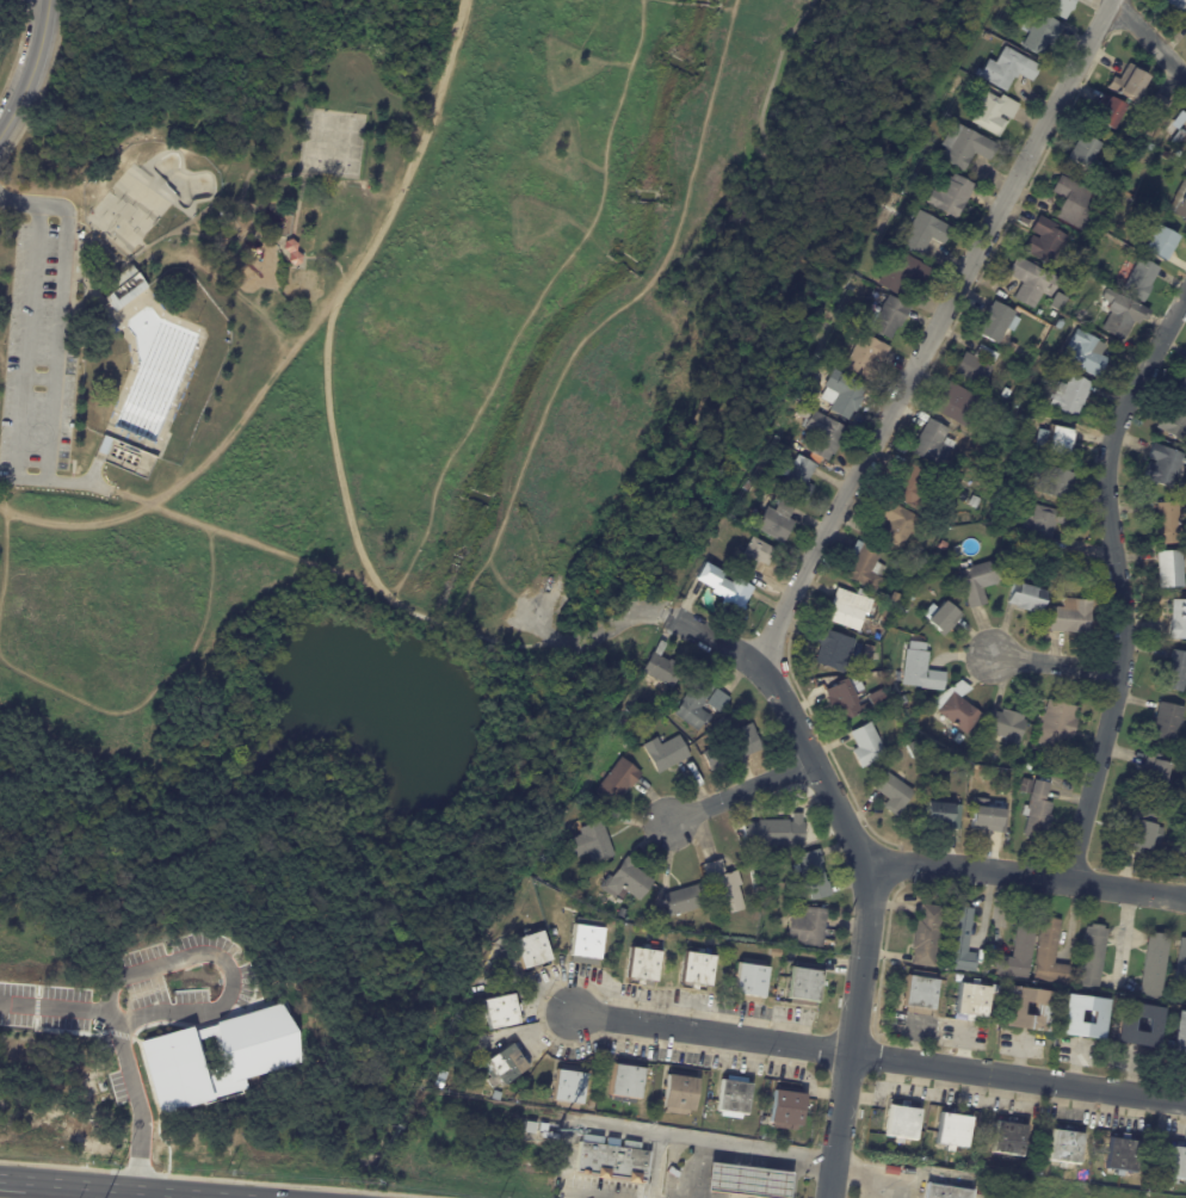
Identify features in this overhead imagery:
road: (32, 5)
building: (1007, 5)
building: (1178, 5)
building: (1056, 6)
building: (1185, 24)
building: (1040, 35)
building: (987, 37)
road: (1150, 39)
road: (29, 69)
building: (1007, 69)
building: (1126, 81)
building: (1157, 106)
building: (1107, 112)
building: (993, 113)
building: (1179, 137)
park: (328, 141)
building: (965, 147)
building: (1150, 148)
building: (1082, 152)
building: (1185, 162)
road: (302, 180)
building: (915, 181)
park: (146, 193)
building: (952, 196)
building: (1179, 202)
road: (18, 203)
road: (211, 204)
building: (1074, 204)
building: (926, 233)
building: (1044, 241)
building: (1160, 243)
road: (325, 258)
building: (902, 272)
building: (1079, 272)
building: (1141, 280)
building: (1031, 283)
road: (88, 284)
building: (122, 290)
road: (346, 290)
road: (81, 296)
park: (161, 301)
building: (1122, 315)
road: (779, 316)
building: (888, 319)
building: (997, 323)
building: (1060, 325)
road: (928, 331)
building: (1012, 348)
parking lot: (38, 350)
building: (1086, 354)
building: (866, 358)
building: (976, 366)
road: (38, 378)
building: (1184, 387)
building: (1006, 394)
building: (841, 395)
building: (1071, 396)
building: (963, 407)
building: (1175, 420)
building: (821, 433)
building: (1056, 440)
building: (933, 445)
road: (0, 447)
road: (200, 465)
building: (1165, 468)
road: (93, 471)
road: (42, 478)
building: (798, 478)
road: (79, 482)
building: (749, 486)
building: (1054, 486)
building: (910, 487)
park: (371, 496)
building: (974, 502)
building: (1001, 511)
building: (777, 520)
building: (898, 525)
building: (1043, 525)
building: (1168, 525)
road: (242, 546)
building: (753, 555)
building: (865, 568)
building: (1170, 570)
road: (1117, 579)
building: (980, 583)
building: (724, 586)
building: (896, 599)
building: (1026, 599)
road: (396, 605)
building: (847, 611)
road: (592, 613)
building: (941, 618)
building: (1071, 618)
road: (438, 622)
building: (1179, 622)
road: (712, 638)
building: (900, 642)
road: (552, 646)
building: (833, 650)
building: (869, 654)
road: (1055, 661)
building: (661, 666)
building: (919, 671)
building: (1174, 674)
building: (715, 702)
building: (903, 702)
building: (844, 703)
building: (694, 704)
building: (956, 709)
building: (669, 715)
building: (623, 722)
building: (1167, 723)
building: (1056, 727)
building: (1005, 730)
building: (958, 740)
building: (866, 746)
building: (733, 747)
building: (665, 753)
building: (947, 767)
building: (1027, 768)
building: (1155, 778)
building: (618, 780)
road: (739, 791)
building: (894, 795)
building: (567, 810)
building: (1036, 810)
building: (938, 814)
building: (987, 819)
building: (774, 832)
building: (1141, 833)
building: (1185, 839)
building: (591, 842)
building: (776, 854)
road: (1027, 872)
building: (814, 875)
building: (629, 881)
building: (723, 887)
building: (685, 900)
building: (622, 913)
road: (867, 920)
building: (807, 927)
building: (926, 938)
building: (960, 943)
building: (586, 944)
building: (532, 951)
building: (1019, 951)
building: (1049, 956)
building: (1092, 958)
building: (643, 964)
building: (1181, 964)
building: (1154, 968)
building: (697, 969)
building: (752, 980)
building: (803, 986)
building: (920, 995)
building: (972, 1002)
building: (1168, 1007)
building: (501, 1011)
building: (1043, 1013)
building: (1098, 1020)
building: (1125, 1029)
road: (711, 1032)
building: (1180, 1036)
building: (499, 1062)
road: (1018, 1076)
building: (628, 1083)
building: (569, 1086)
building: (679, 1094)
building: (492, 1095)
building: (735, 1097)
building: (593, 1103)
building: (786, 1111)
building: (634, 1118)
building: (902, 1122)
building: (549, 1131)
building: (724, 1131)
building: (953, 1131)
building: (772, 1137)
road: (678, 1140)
building: (1009, 1140)
road: (572, 1143)
road: (736, 1147)
building: (1065, 1147)
building: (1122, 1154)
building: (613, 1161)
building: (1174, 1162)
road: (866, 1169)
road: (653, 1172)
road: (792, 1177)
road: (11, 1178)
building: (746, 1181)
gas station: (746, 1182)
road: (136, 1188)
building: (946, 1192)
road: (607, 1197)

